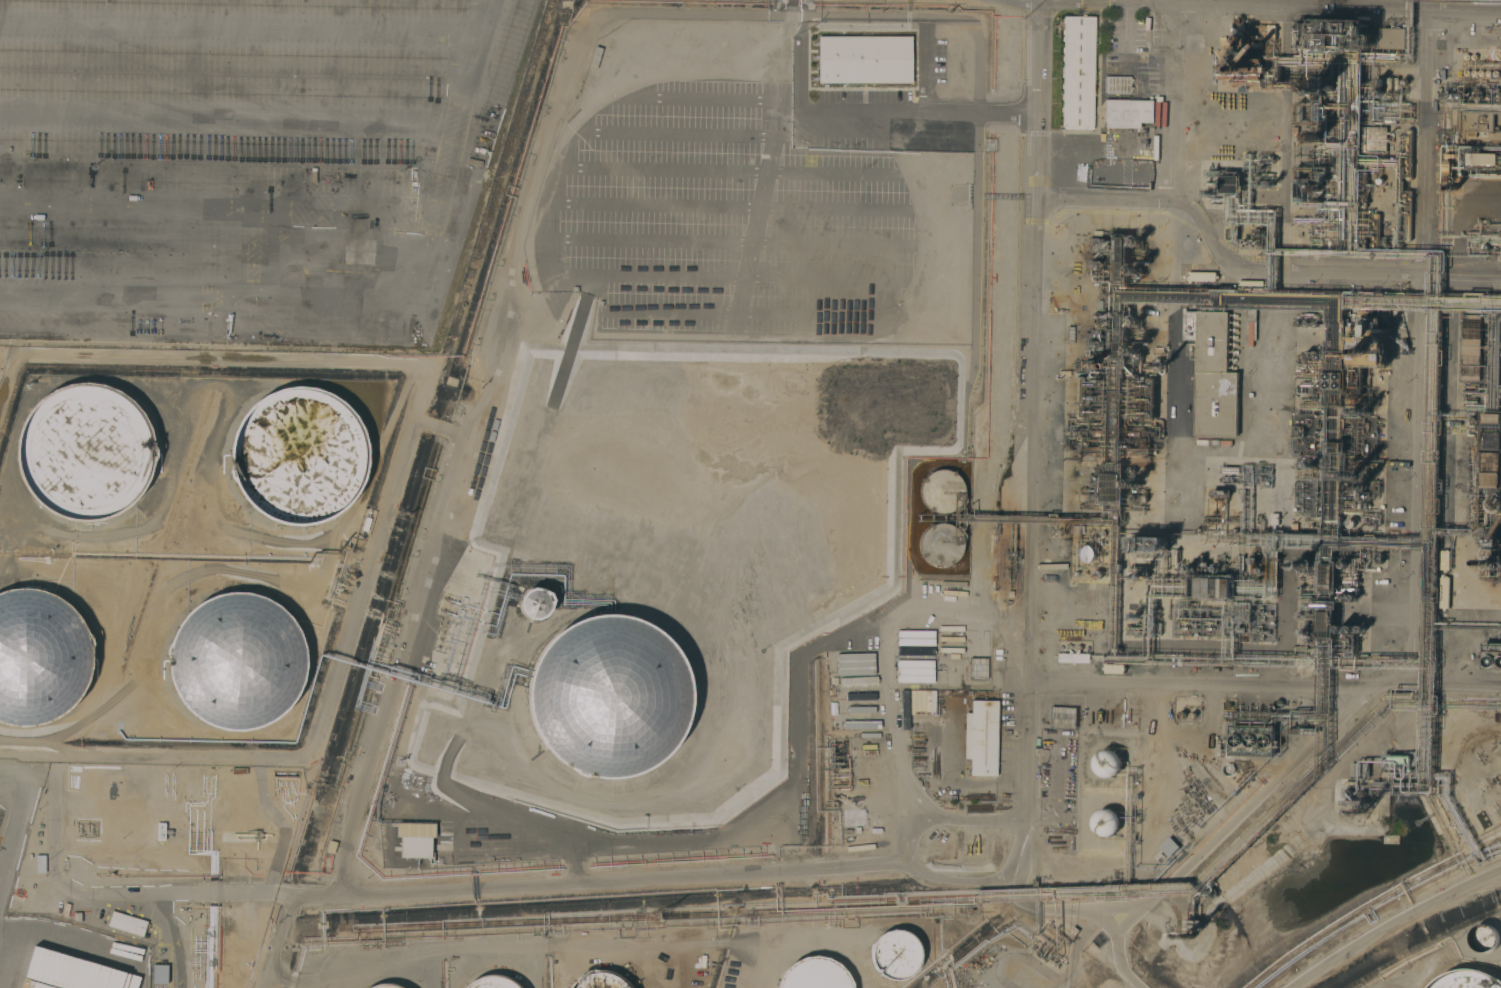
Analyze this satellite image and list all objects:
road: (1043, 2)
road: (1164, 3)
road: (1257, 9)
building: (1392, 38)
building: (1463, 39)
building: (863, 59)
building: (1240, 65)
building: (1077, 72)
building: (1116, 85)
road: (229, 94)
road: (1169, 104)
road: (885, 109)
building: (1131, 114)
building: (1475, 123)
building: (1374, 139)
building: (1075, 154)
building: (1408, 154)
building: (1482, 159)
building: (1363, 190)
road: (546, 196)
road: (325, 207)
building: (1407, 216)
road: (753, 231)
building: (1376, 231)
road: (1256, 266)
building: (1201, 275)
railway: (1005, 324)
railway: (1000, 338)
railway: (1009, 339)
building: (1472, 347)
building: (1368, 351)
building: (1400, 354)
building: (1212, 373)
building: (1077, 398)
road: (1032, 436)
building: (1492, 451)
building: (84, 452)
building: (298, 456)
building: (941, 491)
building: (940, 544)
building: (1085, 553)
building: (1444, 560)
building: (1491, 565)
building: (535, 603)
road: (948, 614)
building: (619, 617)
building: (615, 641)
building: (1491, 656)
building: (40, 657)
building: (235, 661)
building: (854, 664)
road: (886, 682)
building: (914, 702)
building: (981, 737)
building: (1252, 740)
building: (939, 759)
building: (1107, 763)
building: (1227, 769)
road: (903, 774)
road: (1253, 816)
building: (1106, 822)
building: (414, 840)
building: (1167, 846)
road: (903, 848)
building: (40, 864)
road: (398, 892)
building: (127, 924)
building: (1485, 938)
building: (894, 954)
road: (1113, 955)
building: (63, 974)
building: (158, 974)
building: (813, 975)
building: (1467, 979)
building: (598, 980)
building: (491, 982)
building: (385, 986)
building: (400, 987)

